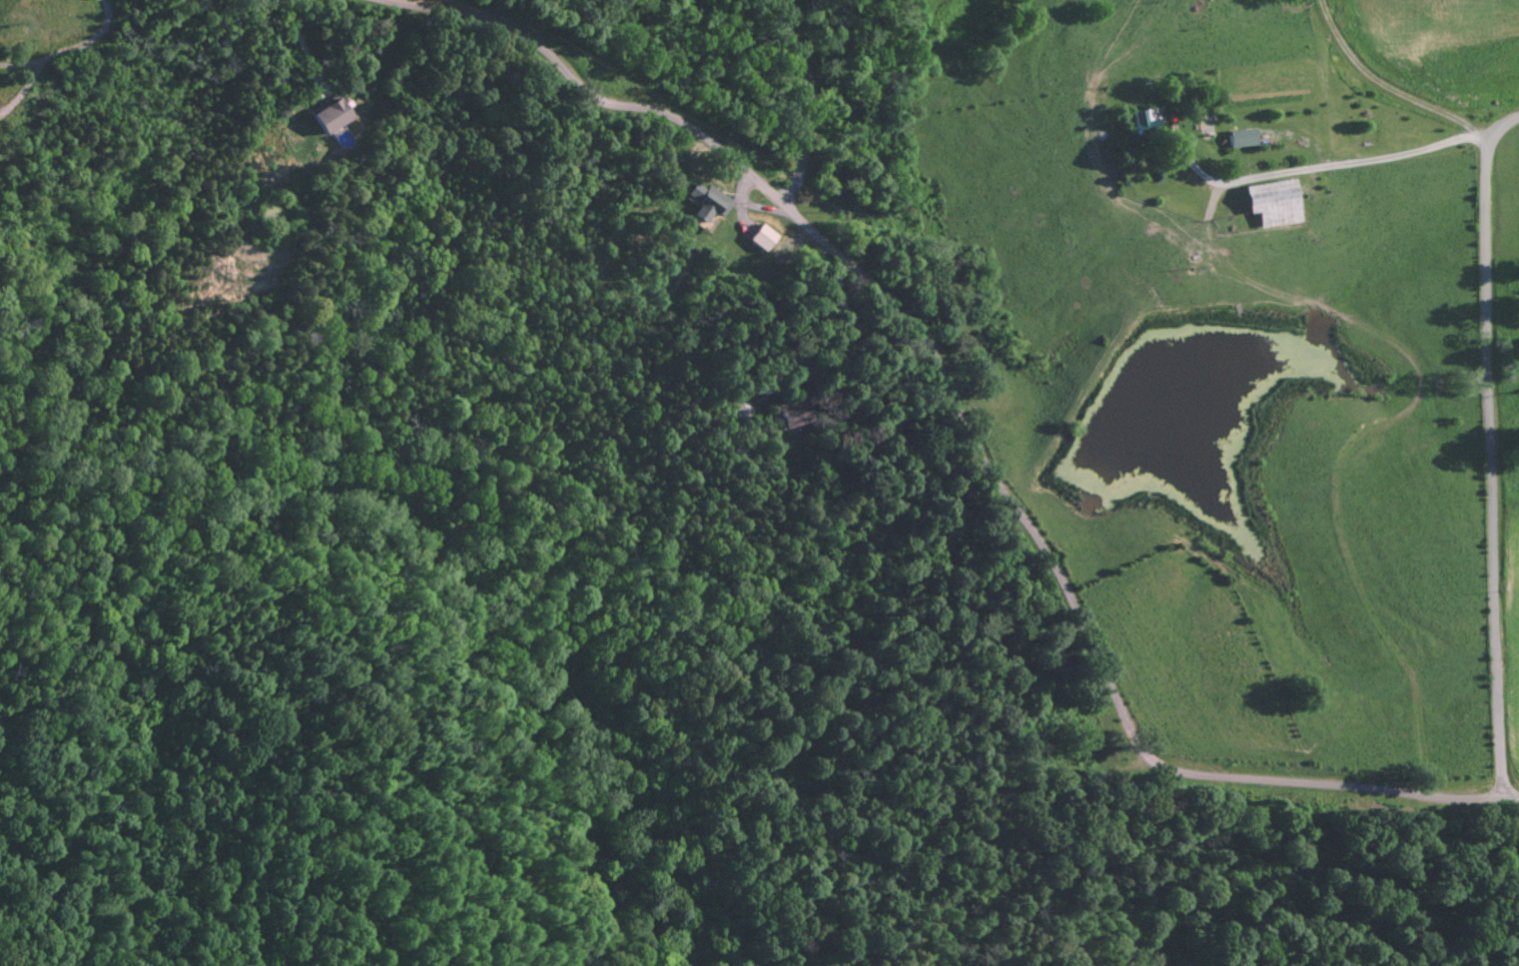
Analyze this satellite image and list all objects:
road: (305, 44)
road: (810, 98)
building: (334, 115)
building: (1151, 117)
building: (1204, 126)
building: (1243, 137)
building: (708, 202)
building: (1275, 202)
road: (1286, 213)
building: (763, 237)
road: (1485, 238)
road: (1266, 274)
building: (740, 409)
road: (966, 427)
road: (1492, 585)

